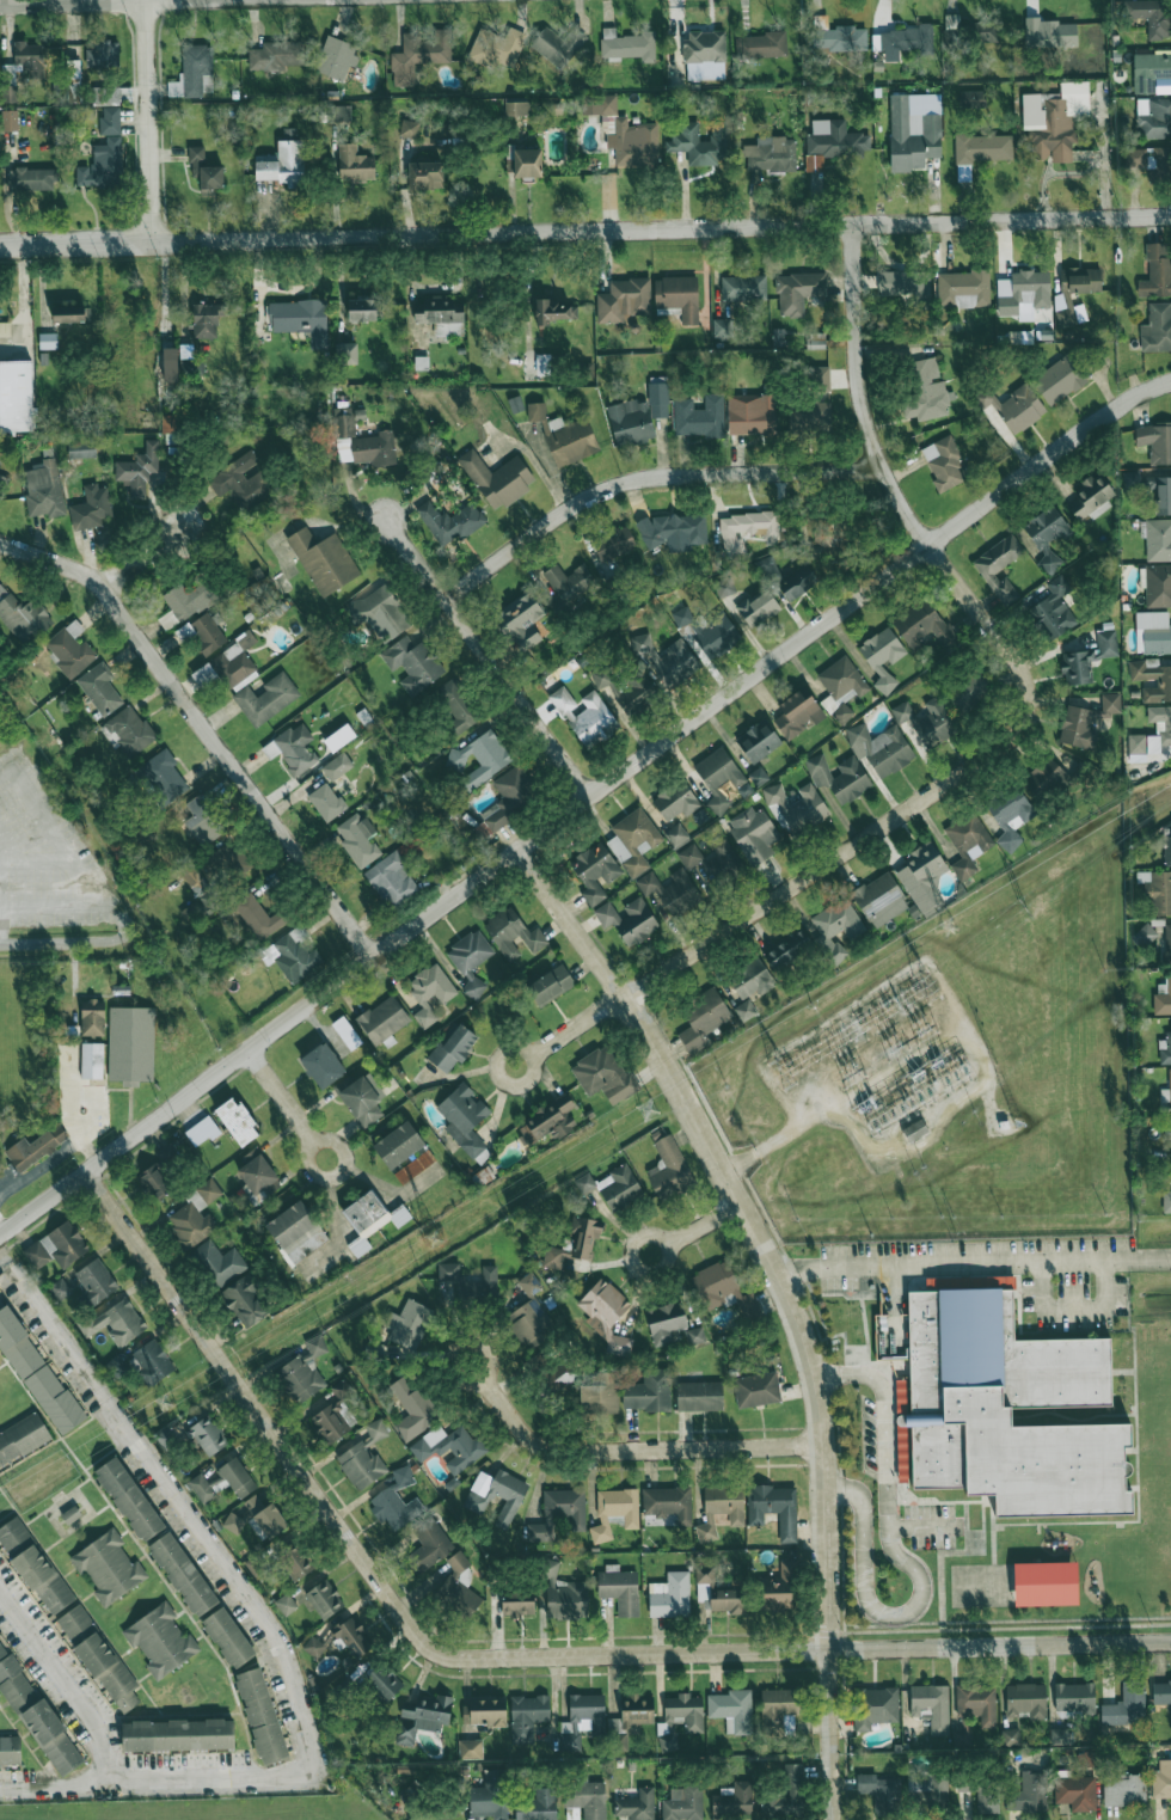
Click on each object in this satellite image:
road: (93, 1)
building: (1153, 17)
building: (970, 30)
building: (1049, 33)
building: (836, 36)
building: (906, 42)
building: (558, 44)
building: (627, 44)
building: (761, 44)
building: (496, 47)
building: (419, 54)
building: (103, 55)
building: (275, 55)
building: (336, 57)
building: (22, 68)
building: (73, 69)
building: (194, 71)
building: (1149, 71)
building: (112, 94)
building: (973, 98)
building: (597, 105)
building: (517, 108)
building: (339, 114)
building: (1153, 117)
building: (110, 120)
road: (149, 120)
building: (10, 121)
building: (1054, 121)
building: (409, 128)
building: (914, 130)
building: (633, 143)
building: (700, 143)
building: (832, 143)
building: (980, 152)
building: (771, 154)
building: (1149, 160)
building: (523, 161)
building: (284, 164)
building: (355, 164)
building: (103, 165)
building: (204, 170)
building: (424, 176)
building: (31, 179)
road: (585, 231)
building: (1157, 272)
building: (905, 286)
building: (743, 287)
building: (963, 288)
building: (798, 292)
building: (1023, 294)
building: (679, 296)
road: (22, 299)
building: (1062, 299)
building: (623, 300)
building: (362, 310)
building: (553, 311)
building: (70, 313)
building: (441, 315)
building: (207, 319)
building: (300, 319)
building: (5, 329)
building: (723, 329)
building: (1157, 329)
building: (779, 337)
building: (48, 341)
building: (816, 341)
building: (345, 353)
building: (170, 364)
building: (542, 364)
building: (192, 367)
building: (817, 376)
building: (1059, 380)
building: (925, 392)
building: (16, 396)
building: (658, 396)
building: (515, 404)
building: (1019, 409)
building: (752, 413)
building: (700, 416)
building: (810, 418)
building: (631, 422)
building: (171, 423)
building: (564, 435)
building: (361, 442)
building: (1155, 442)
building: (81, 448)
building: (943, 462)
building: (139, 471)
road: (885, 477)
building: (497, 478)
road: (644, 480)
building: (241, 482)
building: (2, 484)
building: (43, 489)
building: (1151, 489)
building: (1091, 497)
building: (91, 508)
building: (450, 521)
building: (673, 531)
building: (747, 531)
building: (1047, 535)
building: (1158, 540)
building: (613, 543)
road: (143, 558)
building: (324, 560)
building: (999, 566)
building: (787, 578)
building: (1158, 586)
building: (184, 603)
building: (758, 607)
building: (1053, 609)
building: (379, 611)
building: (23, 615)
building: (521, 624)
building: (922, 625)
building: (1152, 632)
building: (202, 633)
building: (69, 649)
road: (488, 656)
building: (882, 656)
building: (1089, 658)
building: (668, 661)
building: (235, 663)
building: (413, 663)
building: (204, 675)
building: (1163, 684)
building: (841, 687)
building: (99, 688)
building: (967, 691)
building: (634, 693)
building: (266, 699)
building: (456, 704)
building: (797, 712)
building: (585, 717)
building: (926, 721)
building: (1086, 722)
road: (204, 725)
building: (128, 730)
building: (1151, 735)
building: (339, 737)
building: (758, 741)
building: (293, 748)
building: (879, 748)
building: (480, 758)
building: (337, 766)
building: (758, 776)
building: (164, 777)
building: (839, 777)
building: (718, 778)
building: (1044, 779)
building: (510, 797)
building: (675, 801)
building: (326, 802)
road: (581, 803)
building: (796, 807)
building: (1010, 814)
building: (699, 816)
building: (203, 821)
building: (483, 832)
building: (753, 833)
building: (676, 835)
building: (358, 839)
building: (633, 841)
building: (967, 841)
building: (1166, 844)
building: (219, 860)
building: (713, 863)
building: (594, 871)
building: (922, 877)
building: (391, 880)
road: (792, 884)
building: (672, 890)
building: (1158, 890)
building: (879, 900)
power tower: (1024, 907)
building: (258, 917)
building: (629, 920)
building: (839, 920)
building: (513, 933)
building: (1144, 934)
road: (73, 940)
building: (1167, 943)
building: (787, 949)
building: (835, 952)
building: (292, 955)
building: (470, 960)
building: (750, 979)
building: (550, 983)
power tower: (926, 989)
building: (429, 992)
building: (1163, 998)
building: (92, 1018)
building: (382, 1021)
building: (703, 1021)
building: (347, 1032)
building: (131, 1044)
building: (452, 1047)
building: (1165, 1048)
road: (531, 1058)
building: (92, 1061)
power substation: (882, 1062)
building: (321, 1065)
power tower: (790, 1067)
building: (605, 1076)
building: (1170, 1086)
road: (278, 1097)
building: (360, 1098)
power tower: (657, 1110)
building: (238, 1121)
building: (465, 1121)
building: (548, 1121)
building: (202, 1130)
building: (914, 1130)
road: (311, 1141)
building: (398, 1145)
building: (35, 1147)
road: (761, 1151)
building: (173, 1152)
building: (415, 1166)
building: (668, 1169)
building: (256, 1171)
building: (154, 1183)
building: (612, 1187)
building: (1166, 1201)
building: (195, 1214)
building: (370, 1220)
road: (703, 1225)
building: (296, 1233)
power tower: (434, 1242)
building: (574, 1243)
building: (56, 1246)
road: (666, 1248)
building: (219, 1262)
road: (974, 1263)
building: (449, 1273)
building: (94, 1282)
building: (529, 1283)
building: (60, 1289)
building: (723, 1291)
building: (245, 1300)
road: (789, 1300)
road: (1074, 1310)
building: (606, 1316)
building: (115, 1322)
building: (664, 1322)
building: (531, 1323)
building: (409, 1324)
building: (694, 1336)
building: (17, 1344)
road: (460, 1347)
building: (151, 1362)
building: (117, 1367)
building: (304, 1372)
building: (557, 1380)
building: (756, 1389)
building: (649, 1391)
building: (599, 1393)
building: (699, 1396)
building: (54, 1399)
power tower: (165, 1402)
building: (412, 1408)
building: (1003, 1411)
road: (259, 1414)
building: (332, 1415)
building: (207, 1435)
building: (166, 1438)
building: (23, 1439)
building: (449, 1447)
road: (639, 1450)
building: (363, 1458)
building: (233, 1478)
building: (201, 1488)
building: (129, 1499)
building: (396, 1501)
building: (476, 1502)
building: (668, 1503)
building: (721, 1508)
building: (774, 1508)
building: (614, 1512)
building: (559, 1513)
building: (256, 1518)
road: (125, 1525)
building: (428, 1544)
building: (295, 1559)
road: (901, 1561)
building: (458, 1562)
building: (33, 1565)
building: (109, 1567)
building: (183, 1574)
road: (241, 1585)
building: (1040, 1586)
building: (778, 1588)
building: (619, 1589)
building: (718, 1593)
building: (460, 1594)
building: (564, 1594)
building: (670, 1595)
building: (324, 1599)
building: (286, 1604)
building: (517, 1607)
road: (104, 1632)
building: (227, 1637)
building: (349, 1637)
building: (161, 1641)
building: (313, 1647)
building: (2, 1652)
road: (802, 1652)
building: (99, 1659)
building: (382, 1683)
road: (63, 1684)
building: (1161, 1692)
building: (1075, 1697)
building: (1026, 1699)
building: (976, 1702)
building: (1126, 1704)
building: (875, 1706)
building: (931, 1706)
building: (637, 1709)
building: (778, 1709)
building: (732, 1710)
building: (484, 1711)
building: (262, 1715)
building: (37, 1716)
building: (422, 1716)
building: (527, 1716)
building: (583, 1717)
building: (679, 1718)
building: (178, 1735)
building: (1010, 1736)
building: (1059, 1736)
road: (249, 1742)
building: (470, 1748)
building: (10, 1752)
road: (59, 1779)
building: (1161, 1779)
building: (963, 1782)
building: (927, 1787)
building: (1124, 1790)
building: (1030, 1793)
building: (1075, 1793)
building: (881, 1794)
building: (490, 1796)
building: (786, 1796)
building: (987, 1798)
building: (734, 1801)
building: (682, 1803)
building: (637, 1804)
building: (538, 1806)
building: (435, 1815)

